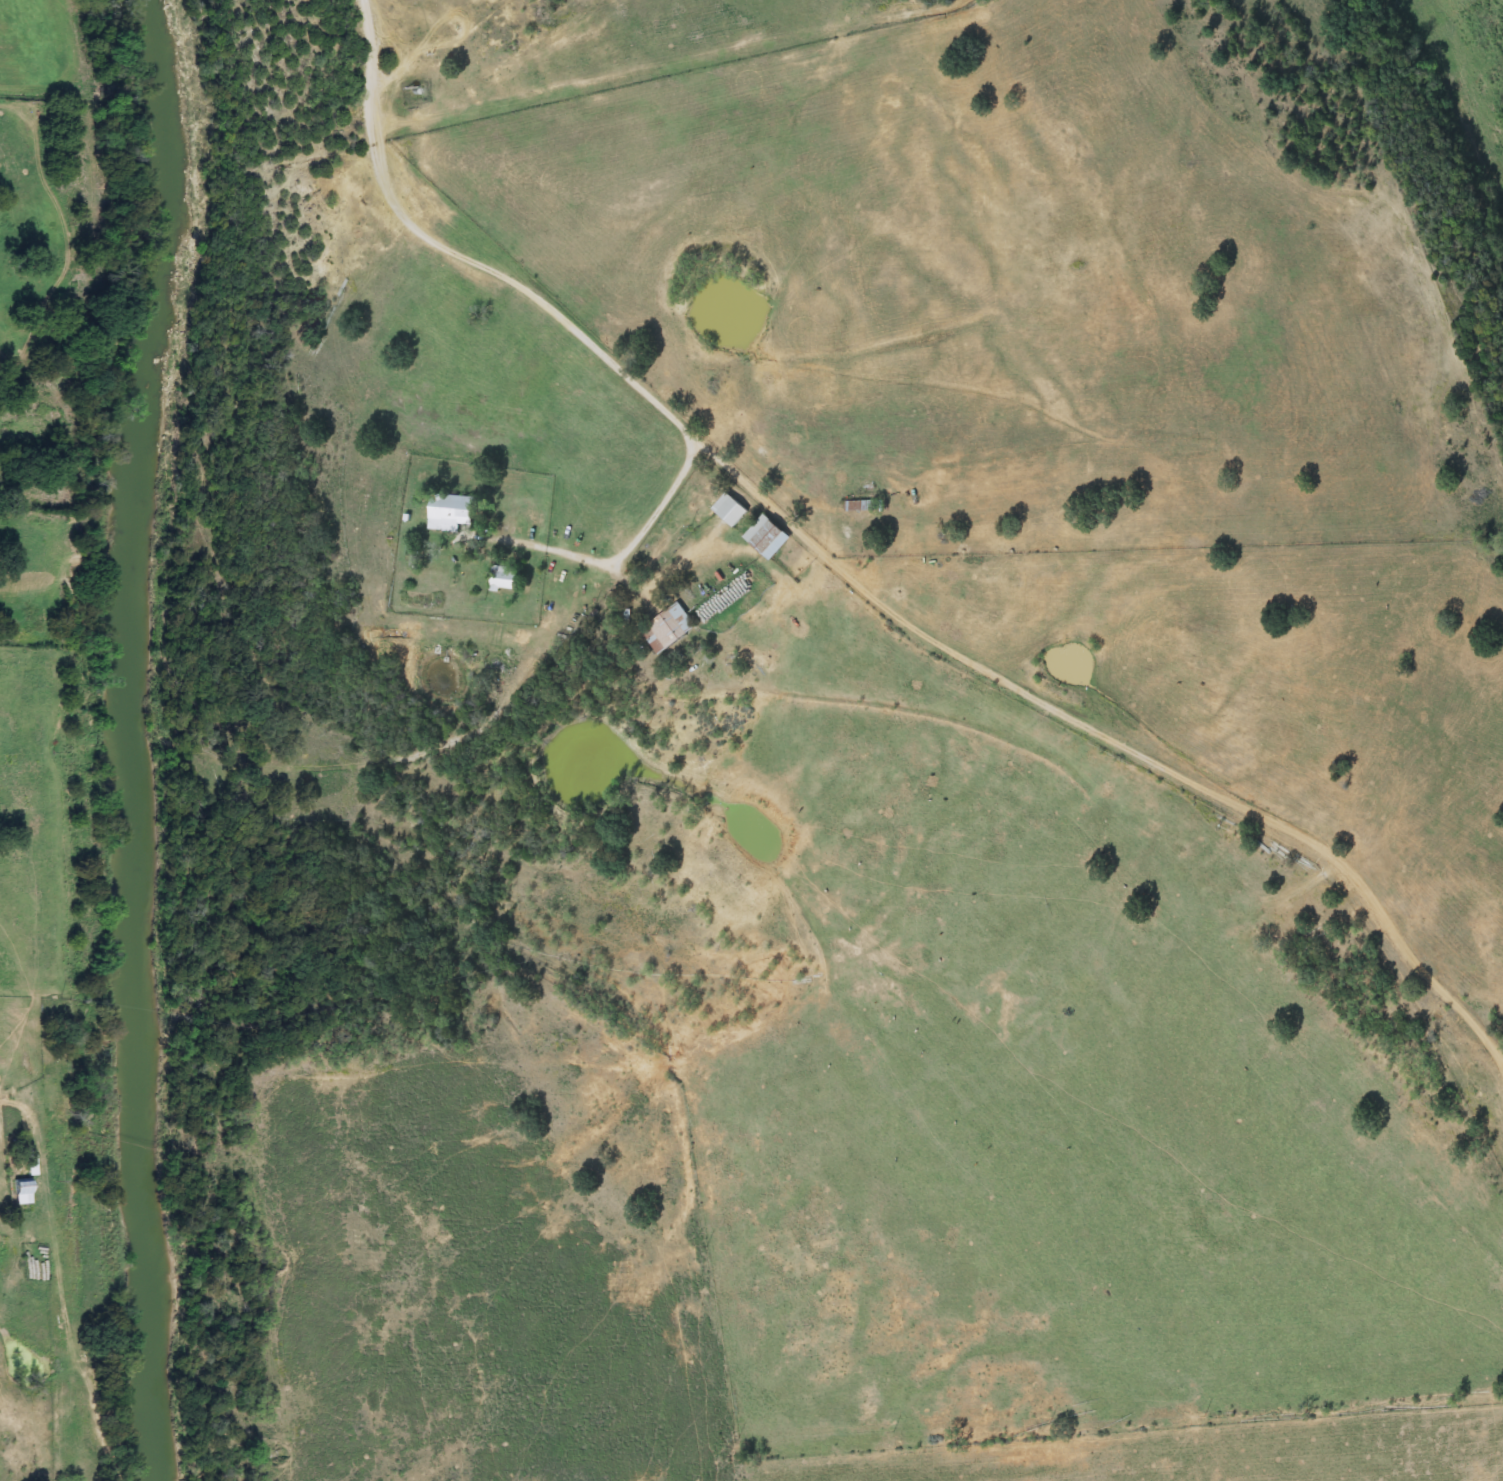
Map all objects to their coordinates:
road: (654, 504)
building: (731, 509)
building: (452, 511)
building: (768, 536)
building: (507, 579)
road: (855, 585)
building: (667, 628)
building: (32, 1163)
building: (23, 1192)

